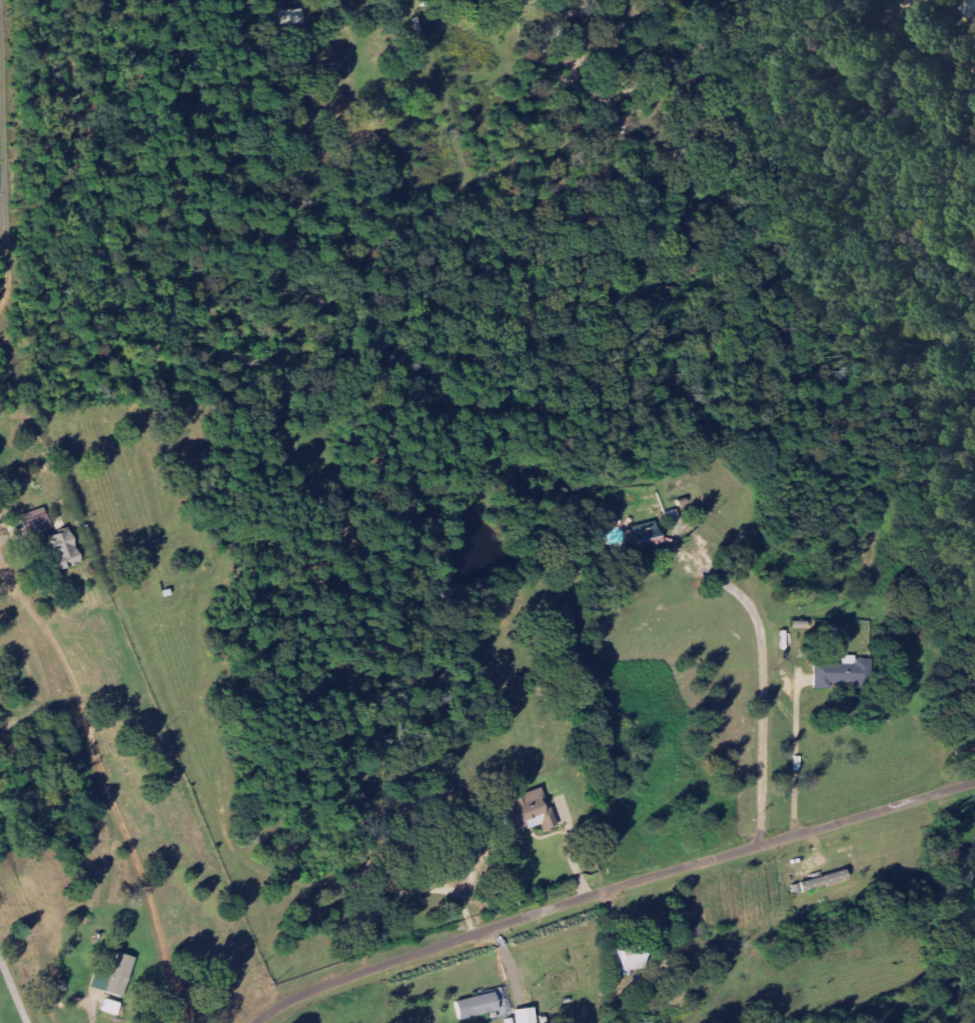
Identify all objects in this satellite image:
building: (965, 8)
building: (37, 521)
building: (647, 537)
building: (66, 549)
road: (797, 756)
road: (107, 780)
building: (530, 811)
building: (823, 881)
road: (610, 889)
building: (633, 959)
building: (117, 976)
road: (12, 991)
building: (481, 1005)
building: (114, 1007)
building: (528, 1015)

